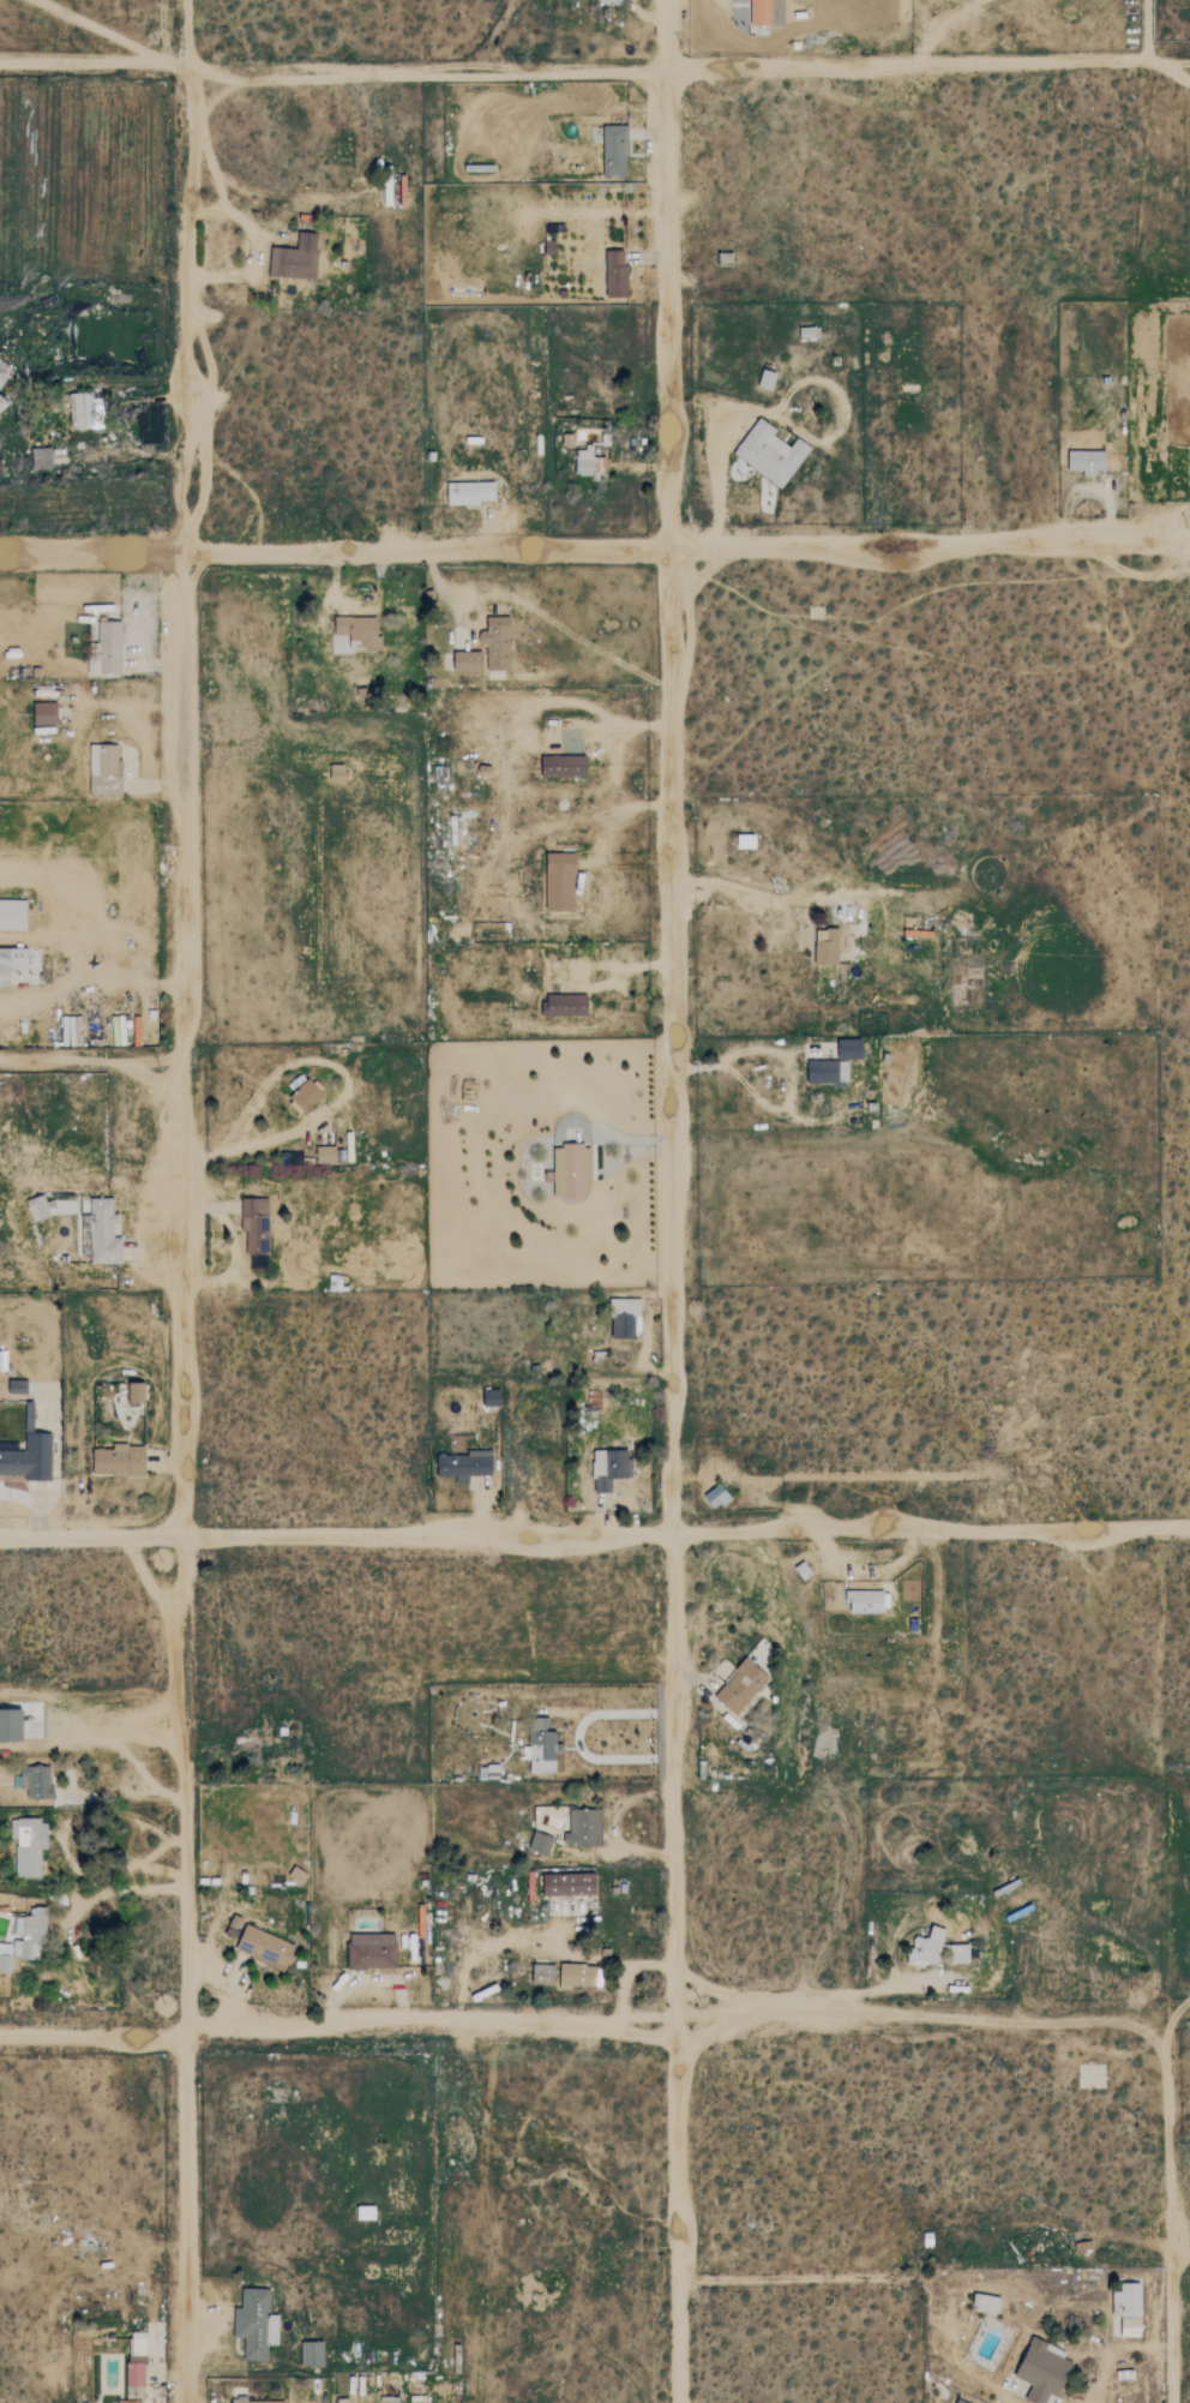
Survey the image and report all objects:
building: (613, 2)
building: (767, 12)
road: (1146, 29)
road: (594, 68)
building: (614, 150)
building: (295, 258)
building: (615, 275)
building: (4, 372)
building: (767, 379)
building: (2, 402)
building: (86, 412)
building: (770, 454)
building: (42, 459)
building: (587, 461)
building: (1087, 462)
building: (471, 493)
road: (594, 546)
building: (360, 631)
building: (497, 643)
building: (108, 651)
building: (468, 661)
building: (46, 713)
building: (564, 767)
building: (106, 769)
road: (614, 773)
building: (747, 841)
building: (560, 882)
building: (13, 915)
building: (827, 947)
building: (11, 963)
building: (565, 1005)
building: (72, 1030)
building: (835, 1063)
road: (337, 1085)
building: (306, 1095)
road: (780, 1107)
building: (326, 1153)
building: (571, 1170)
road: (191, 1200)
road: (672, 1200)
building: (38, 1208)
building: (256, 1226)
building: (104, 1232)
building: (625, 1318)
building: (134, 1391)
building: (491, 1397)
building: (30, 1416)
building: (29, 1458)
building: (120, 1460)
building: (464, 1466)
building: (611, 1468)
building: (717, 1496)
road: (594, 1540)
building: (867, 1602)
building: (741, 1685)
building: (12, 1726)
road: (578, 1737)
building: (542, 1746)
building: (35, 1781)
road: (125, 1794)
building: (584, 1828)
building: (541, 1842)
building: (30, 1846)
road: (629, 1847)
building: (570, 1883)
road: (119, 1893)
building: (30, 1934)
building: (265, 1948)
building: (927, 1948)
building: (372, 1950)
building: (960, 1953)
building: (6, 1956)
building: (543, 1973)
building: (578, 1976)
road: (220, 1986)
road: (692, 1991)
road: (729, 1991)
road: (858, 1992)
road: (785, 2009)
road: (918, 2018)
road: (336, 2032)
building: (366, 2212)
road: (1173, 2212)
road: (1182, 2254)
road: (795, 2279)
building: (987, 2303)
building: (1131, 2309)
building: (257, 2324)
road: (1113, 2350)
building: (312, 2354)
building: (138, 2362)
building: (1045, 2371)
building: (132, 2402)
building: (256, 2402)

